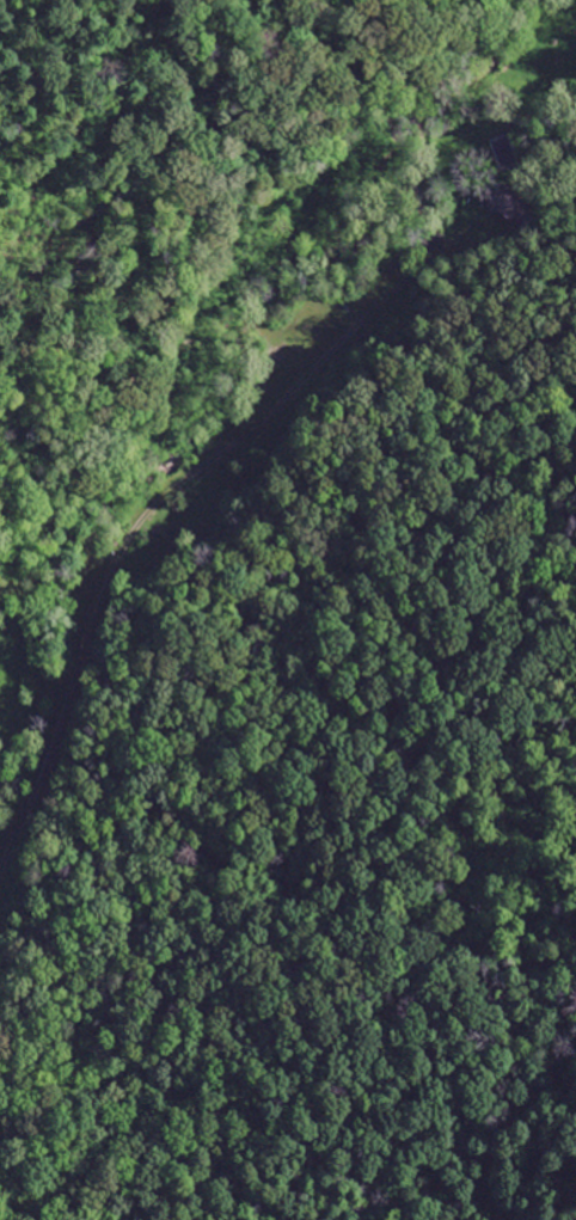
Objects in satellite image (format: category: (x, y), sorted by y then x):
building: (508, 206)
road: (149, 511)

